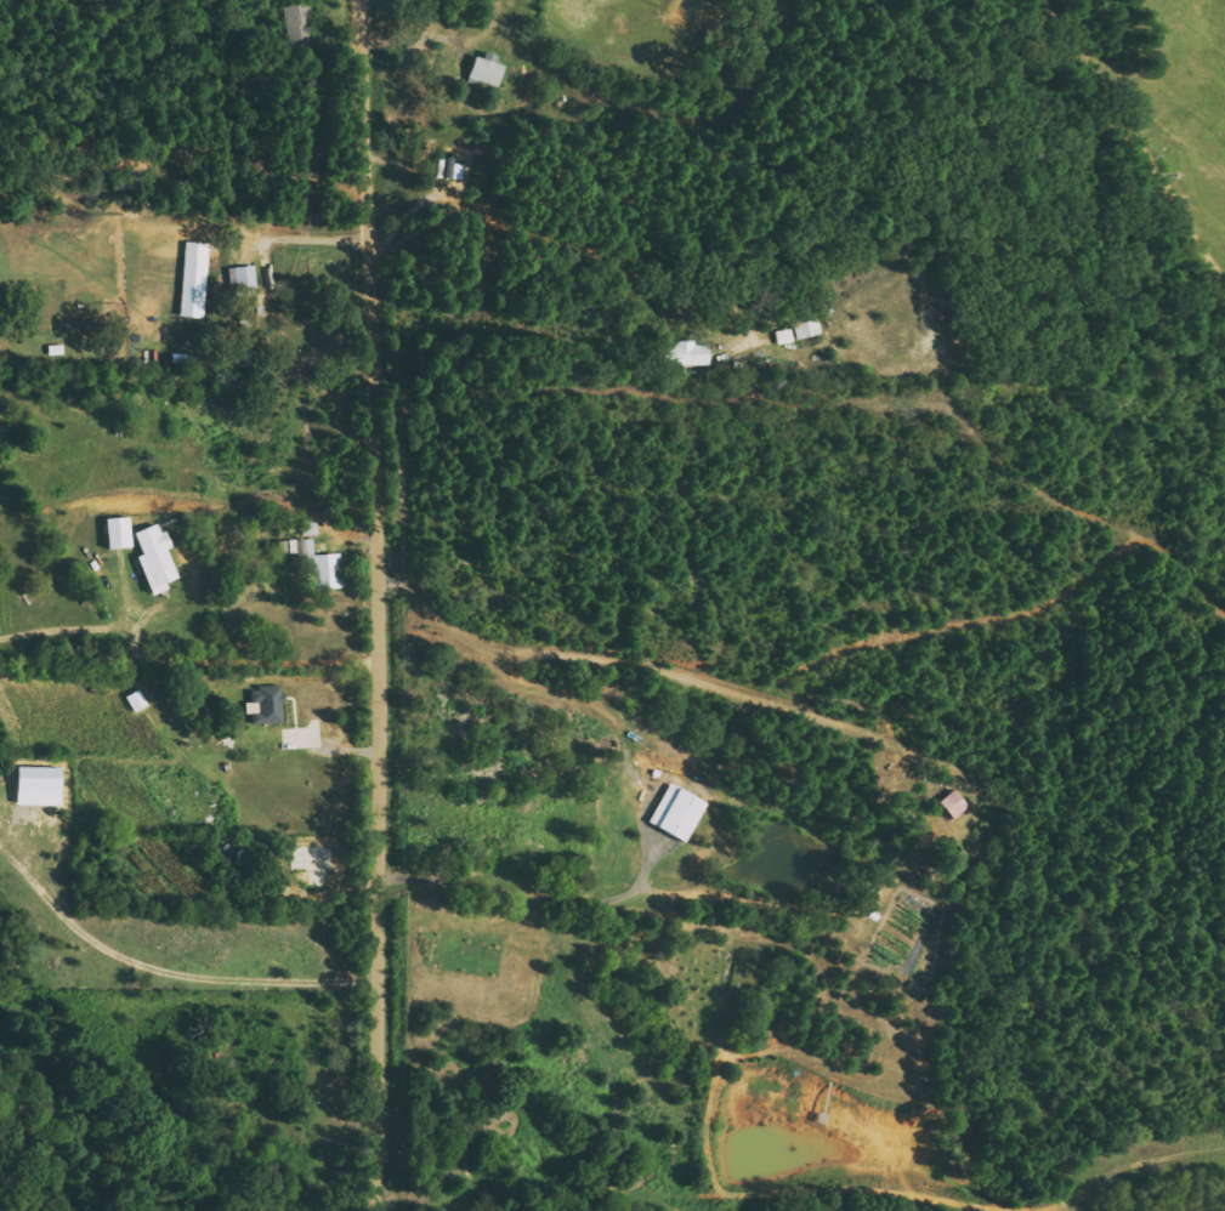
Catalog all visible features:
building: (297, 25)
building: (486, 72)
building: (450, 167)
building: (244, 278)
building: (195, 279)
building: (787, 336)
building: (121, 531)
building: (158, 558)
building: (321, 564)
road: (376, 604)
building: (138, 700)
building: (267, 705)
building: (42, 772)
building: (955, 805)
building: (680, 812)

